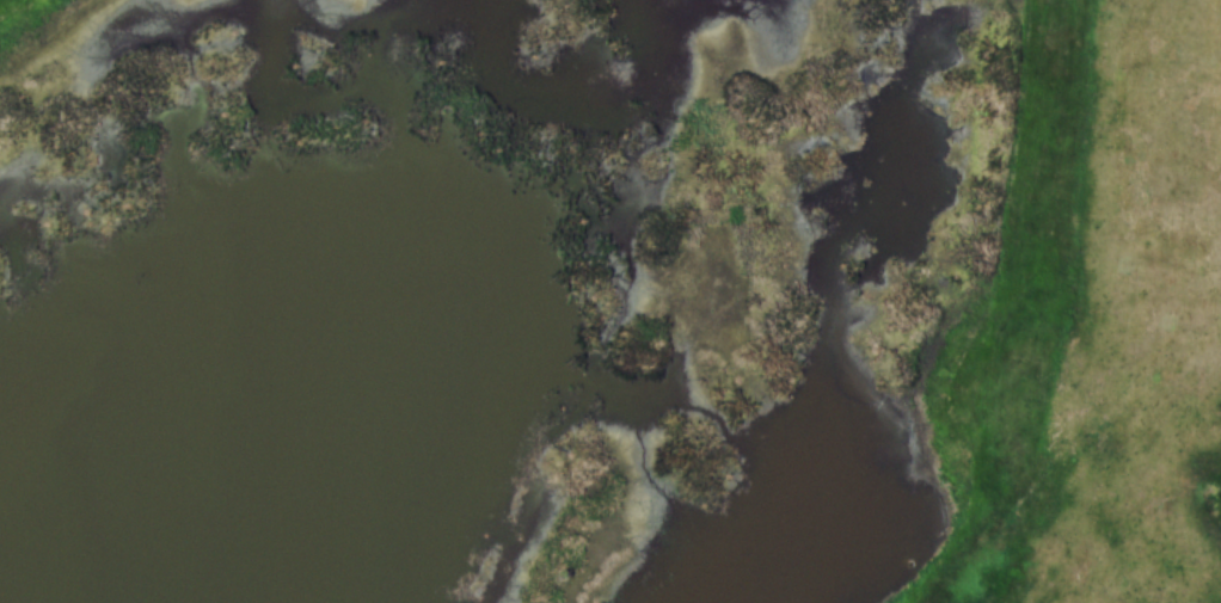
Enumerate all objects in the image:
airport runway: (5, 4)
airport runway: (1048, 301)

